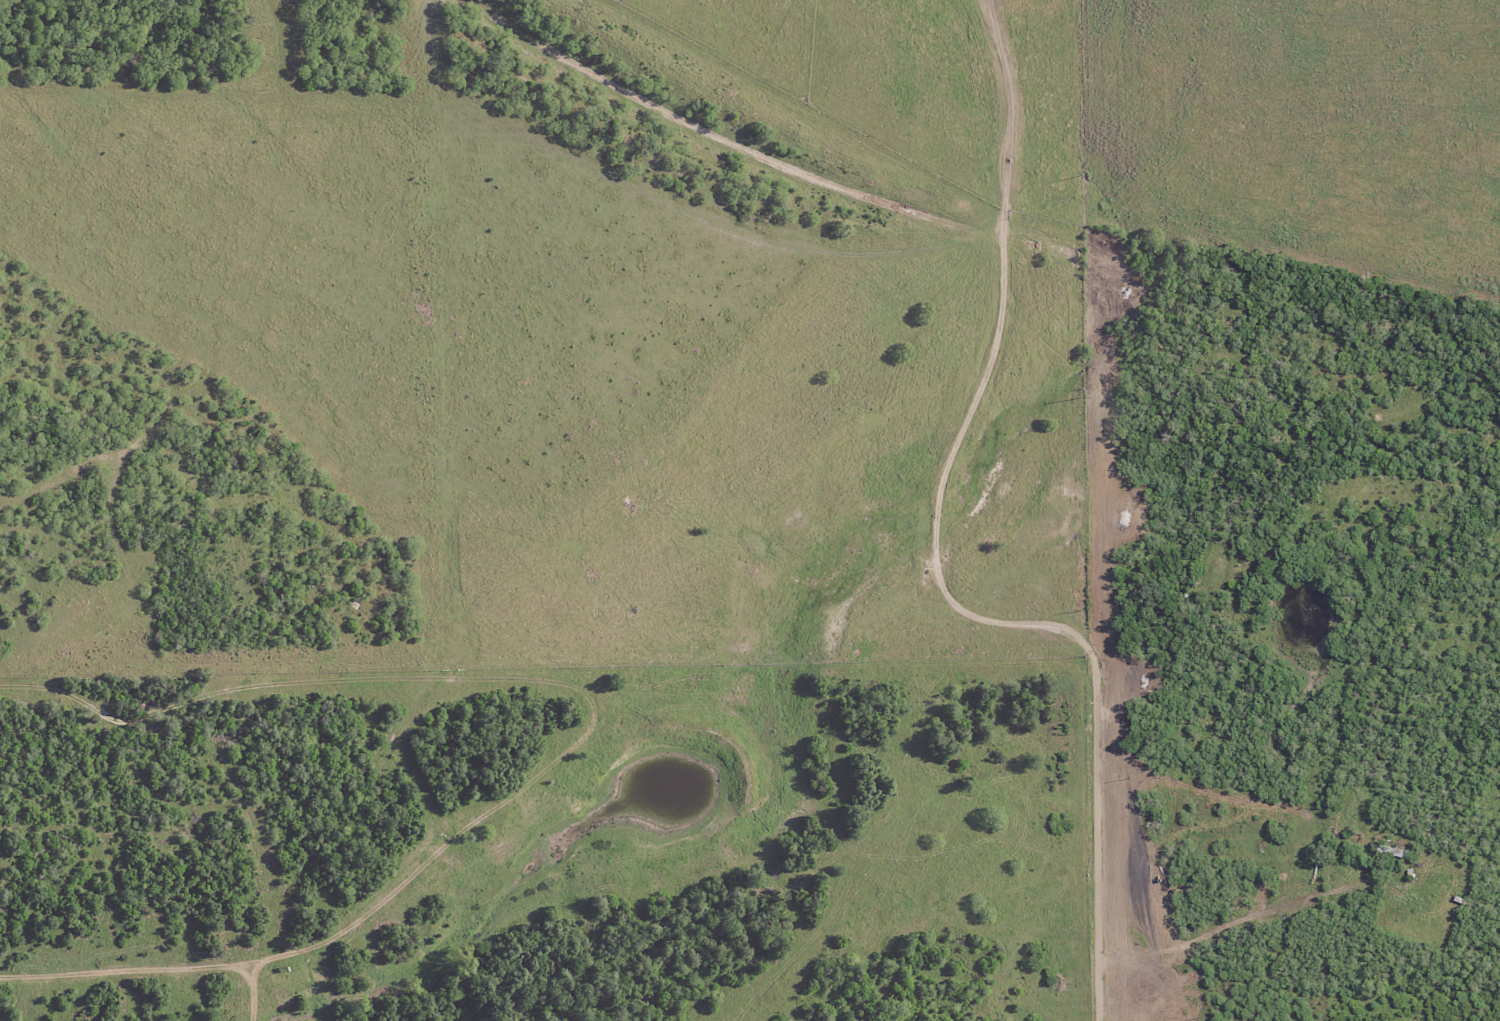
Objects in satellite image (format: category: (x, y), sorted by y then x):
road: (956, 575)
road: (1155, 669)
road: (1302, 903)
road: (1375, 906)
road: (1414, 929)
road: (1300, 1018)

